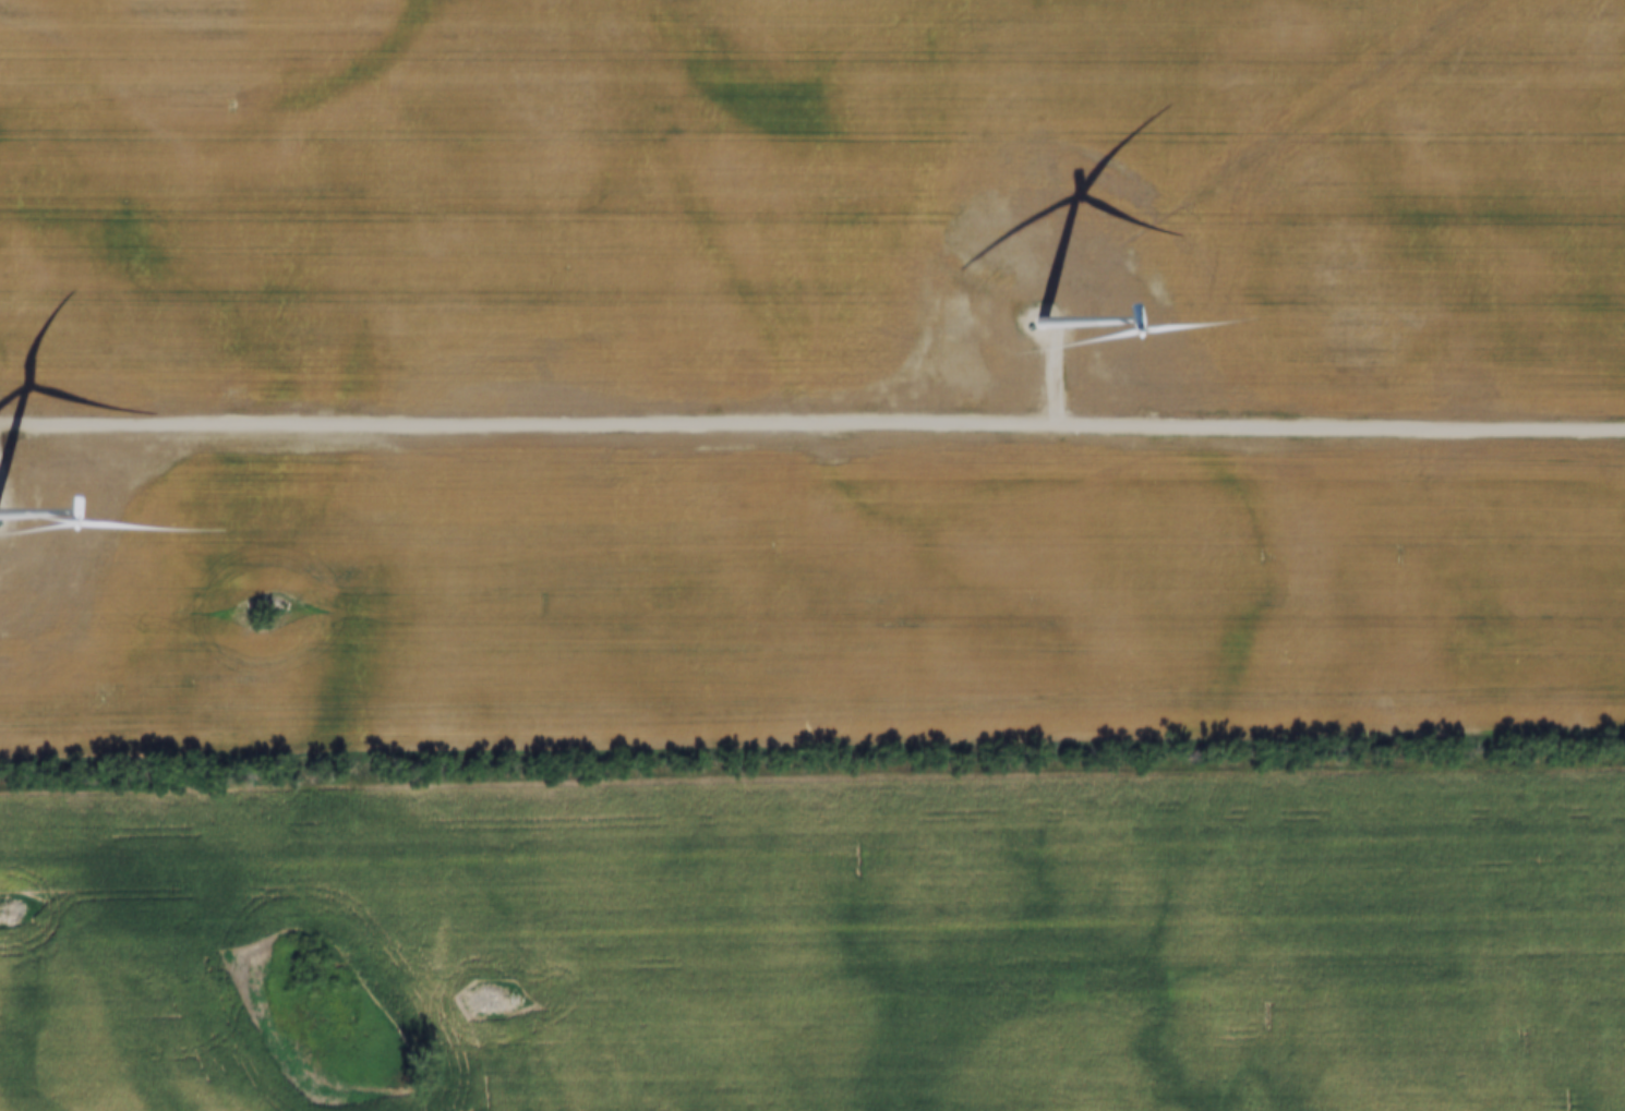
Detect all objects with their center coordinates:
wind turbine: (1051, 321)
wind turbine: (0, 514)

